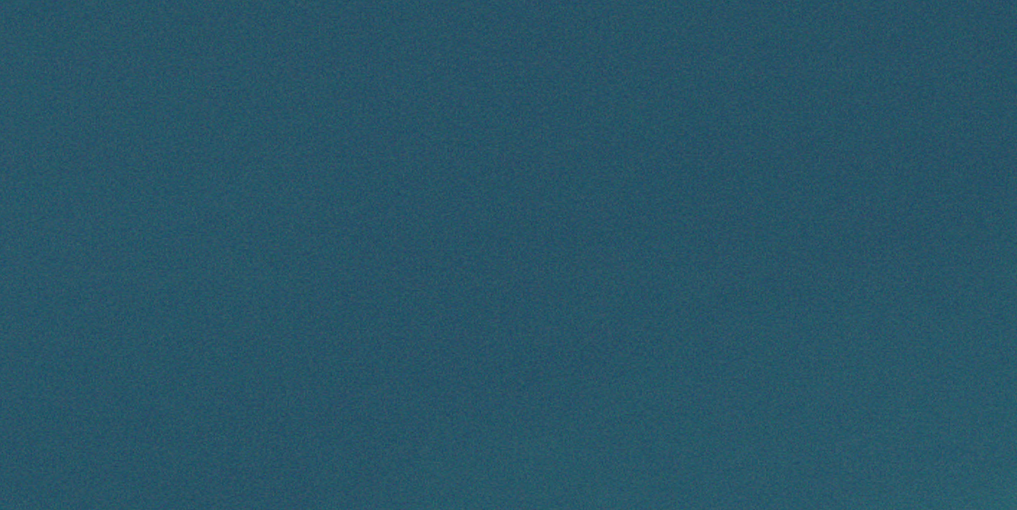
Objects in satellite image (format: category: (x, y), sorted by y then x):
river: (372, 95)

